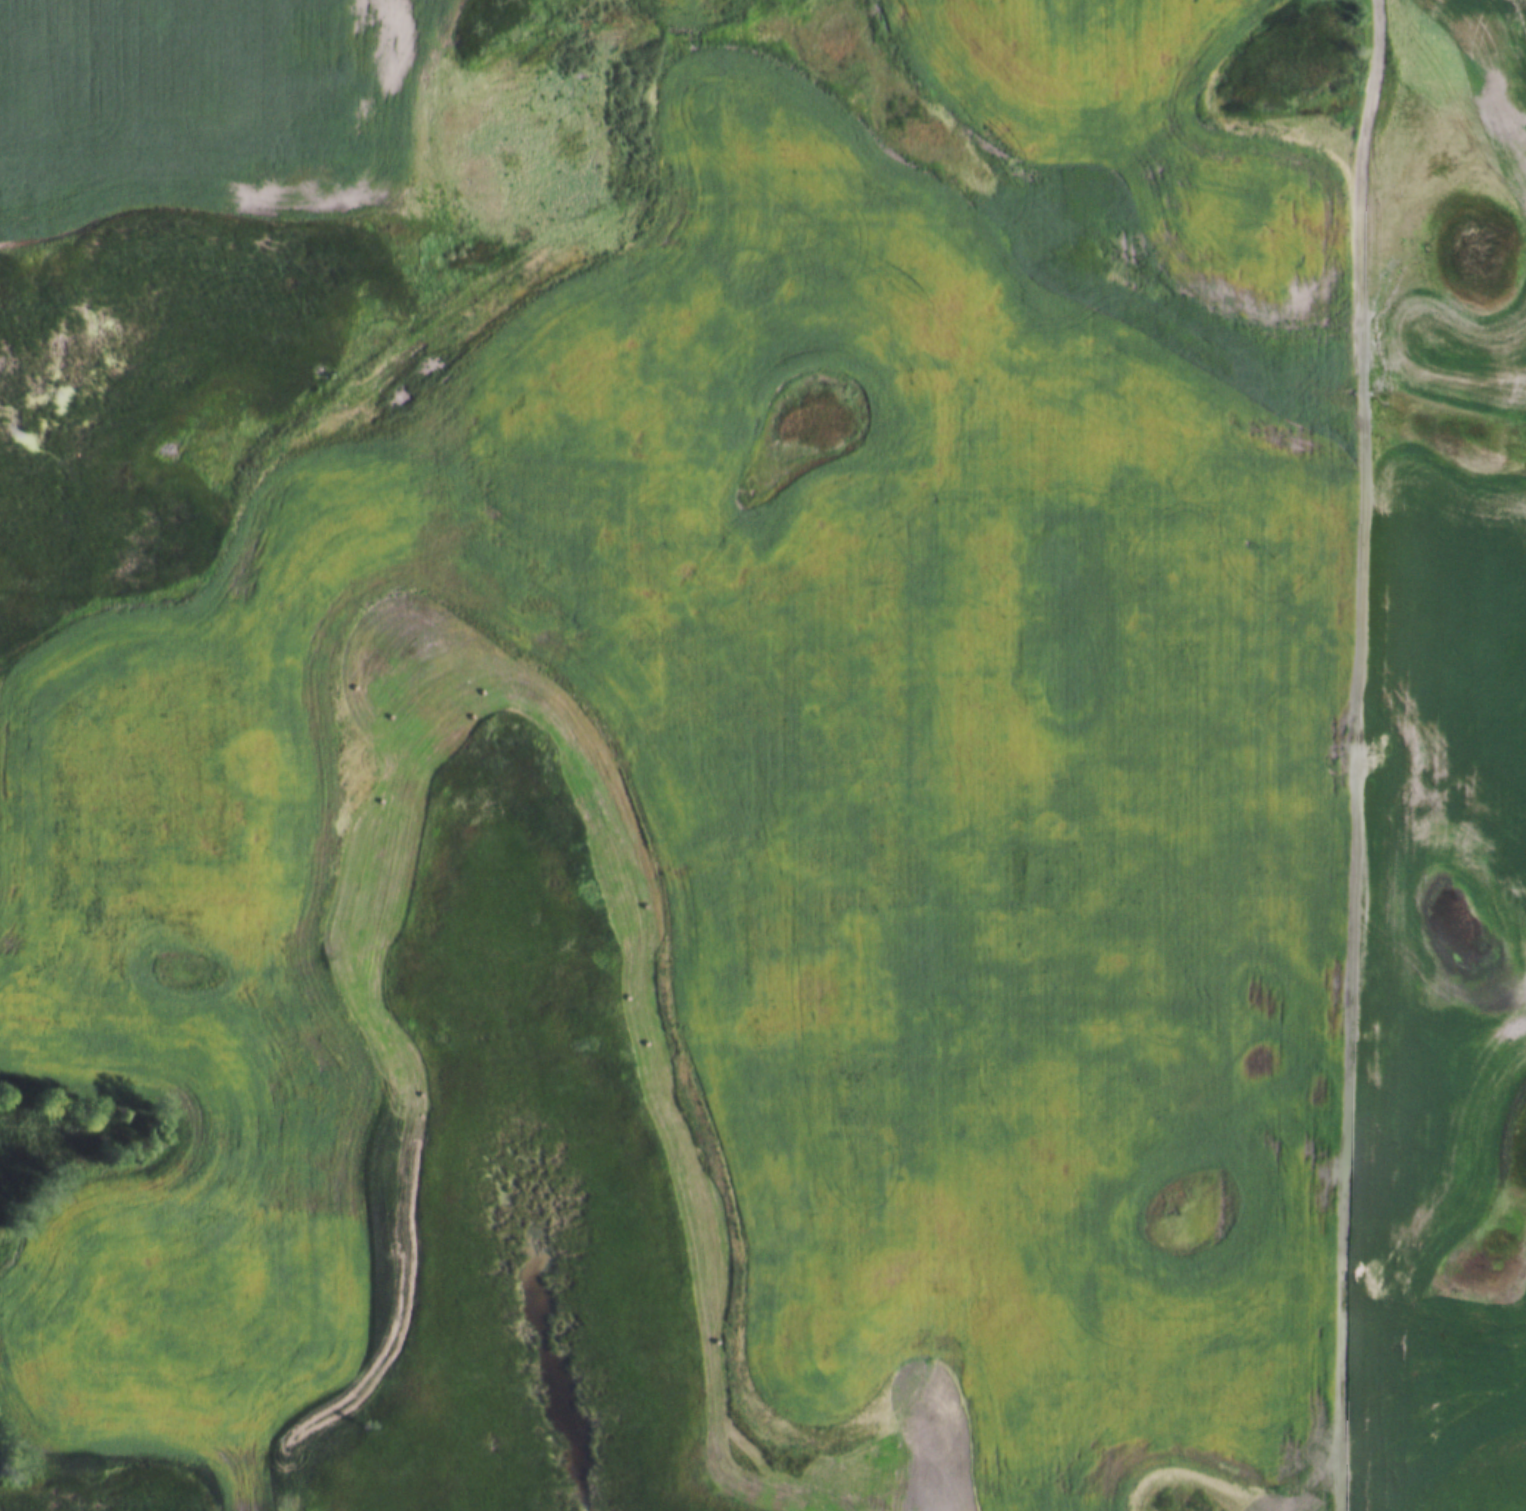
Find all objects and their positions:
road: (1362, 748)

